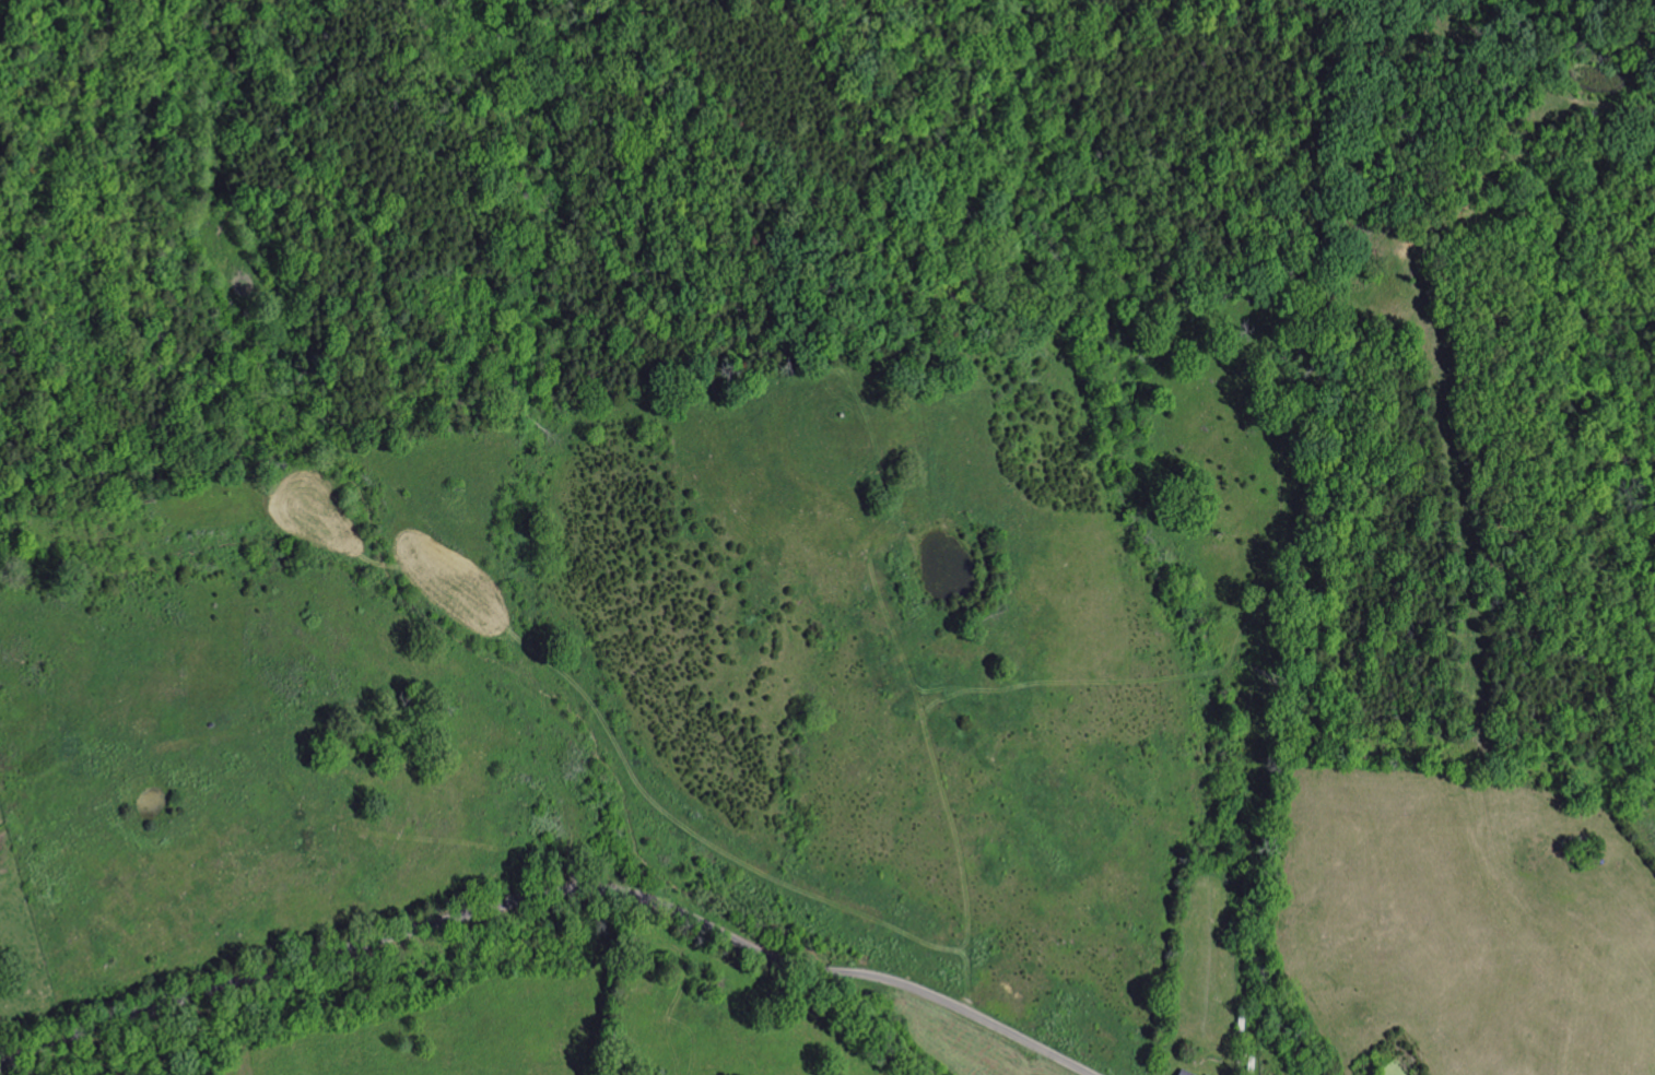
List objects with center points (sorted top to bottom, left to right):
road: (552, 894)
building: (1181, 1072)
building: (1202, 1074)

